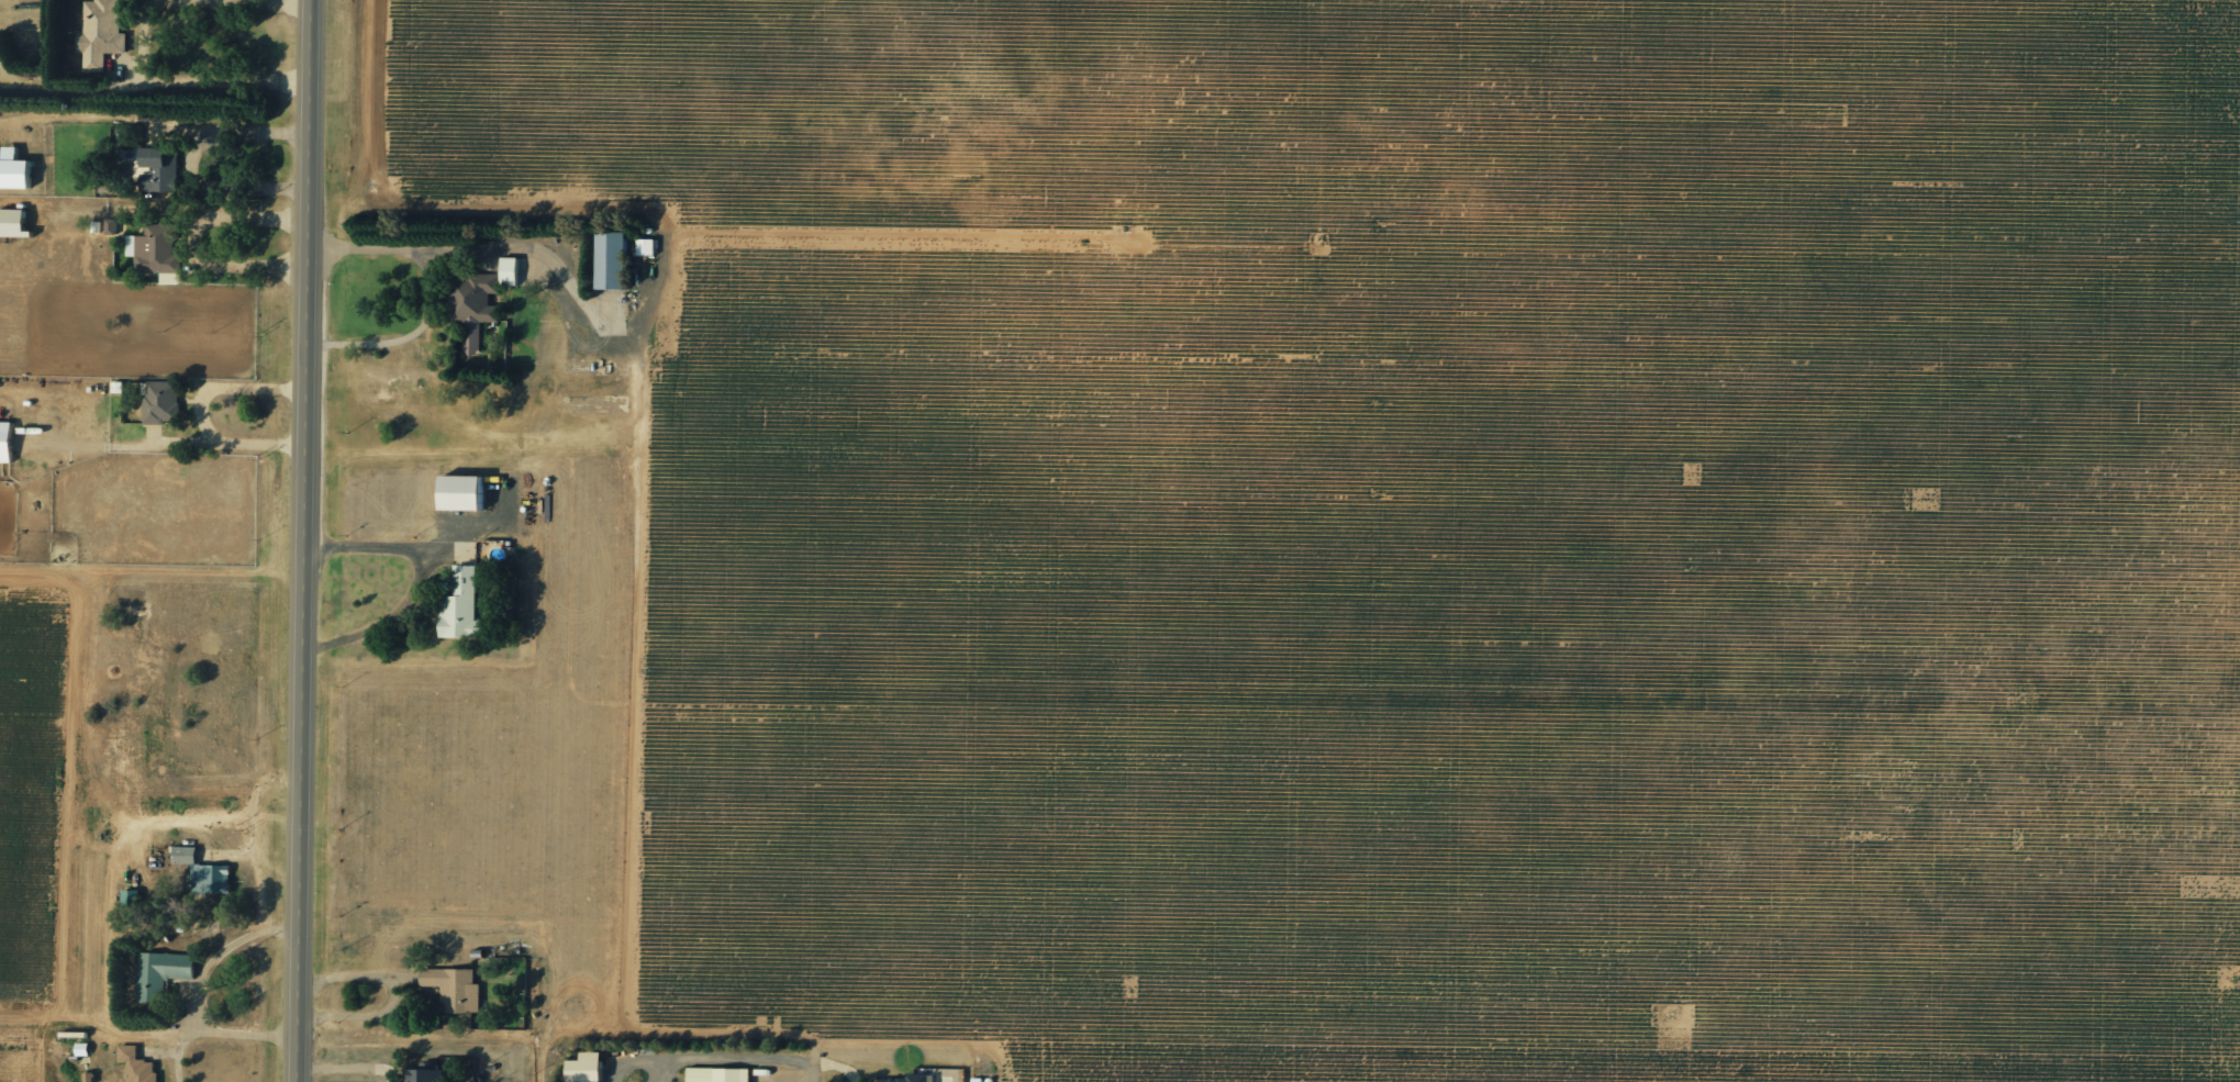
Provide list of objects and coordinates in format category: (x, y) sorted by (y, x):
building: (103, 34)
road: (138, 41)
building: (158, 168)
building: (13, 169)
building: (11, 223)
building: (109, 226)
road: (198, 242)
building: (645, 246)
building: (155, 249)
building: (609, 259)
building: (506, 270)
building: (168, 278)
road: (426, 301)
building: (471, 305)
road: (225, 388)
building: (157, 402)
building: (3, 440)
road: (167, 443)
road: (308, 540)
road: (419, 580)
building: (458, 606)
building: (202, 872)
building: (160, 970)
road: (202, 972)
building: (452, 989)
road: (391, 993)
road: (242, 1034)
building: (135, 1064)
road: (349, 1067)
building: (581, 1068)
building: (714, 1074)
building: (422, 1075)
building: (86, 1077)
road: (817, 1077)
building: (917, 1077)

